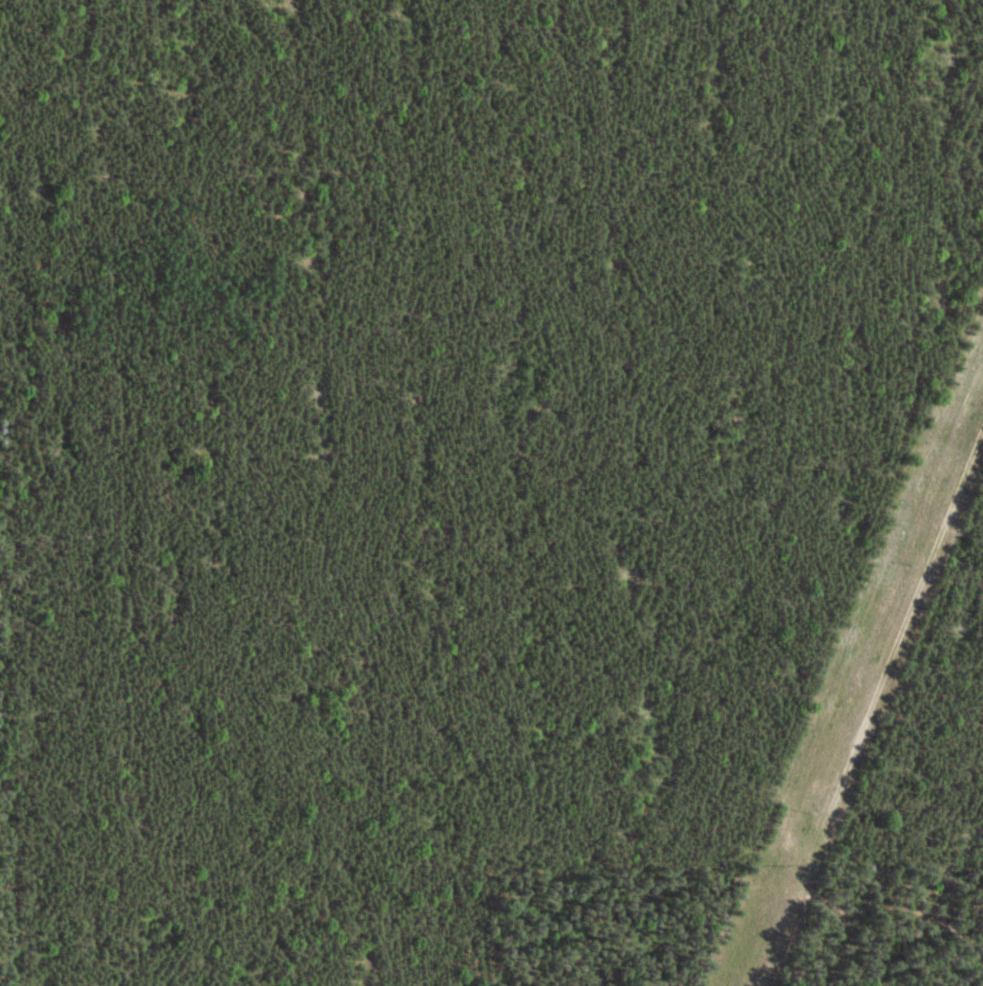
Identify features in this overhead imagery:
road: (871, 710)

